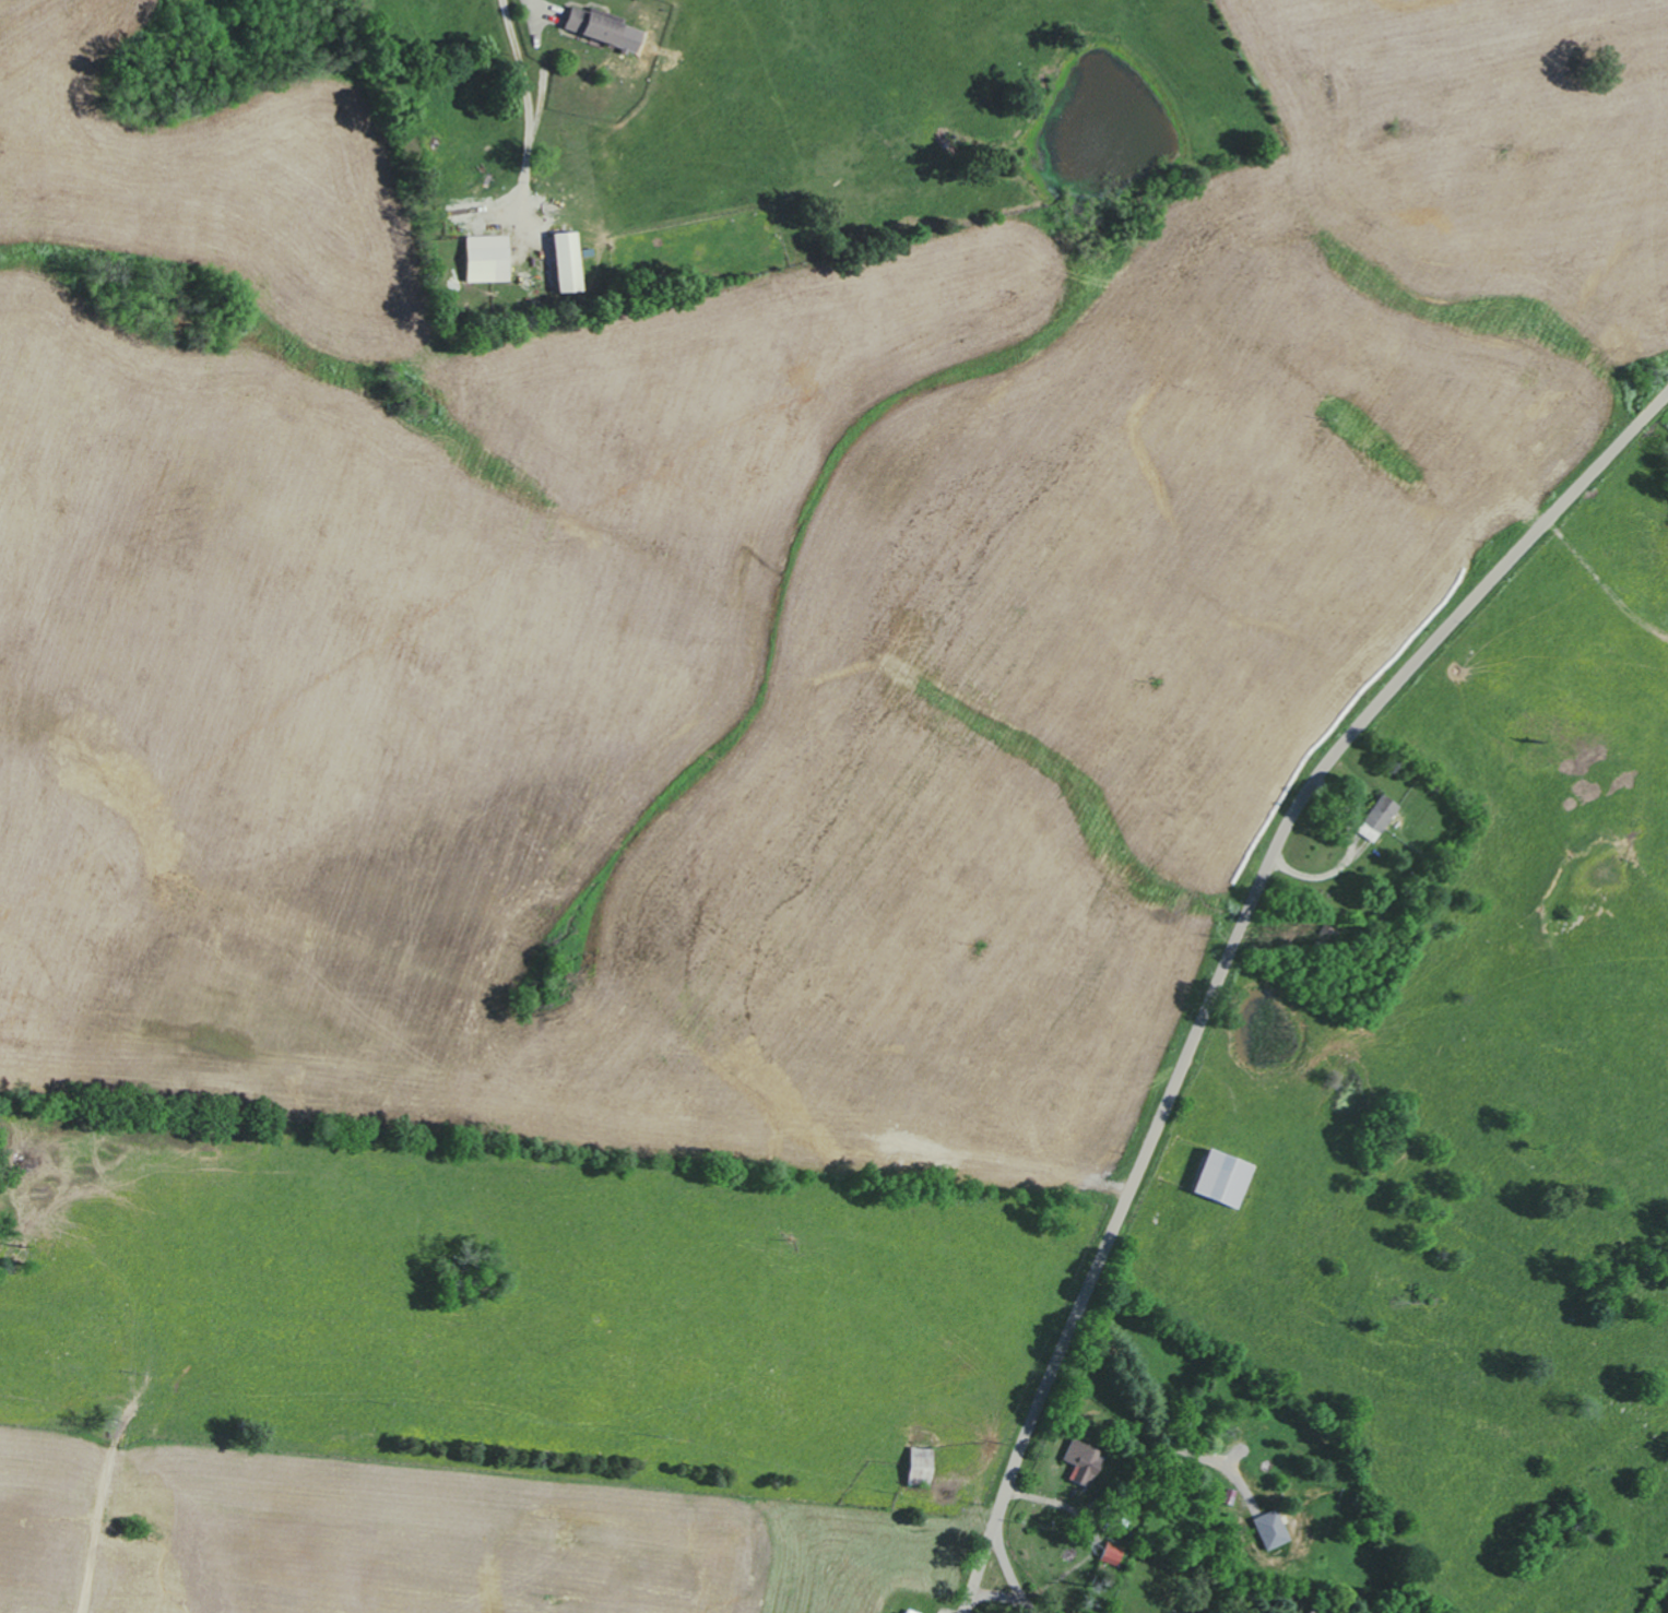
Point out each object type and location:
building: (598, 28)
road: (529, 112)
building: (484, 258)
building: (561, 258)
building: (1375, 818)
road: (1251, 906)
building: (1218, 1179)
building: (1081, 1462)
building: (915, 1466)
building: (1270, 1529)
building: (1108, 1554)
road: (981, 1565)
road: (1008, 1568)
road: (997, 1593)
building: (1320, 1609)
building: (900, 1612)

